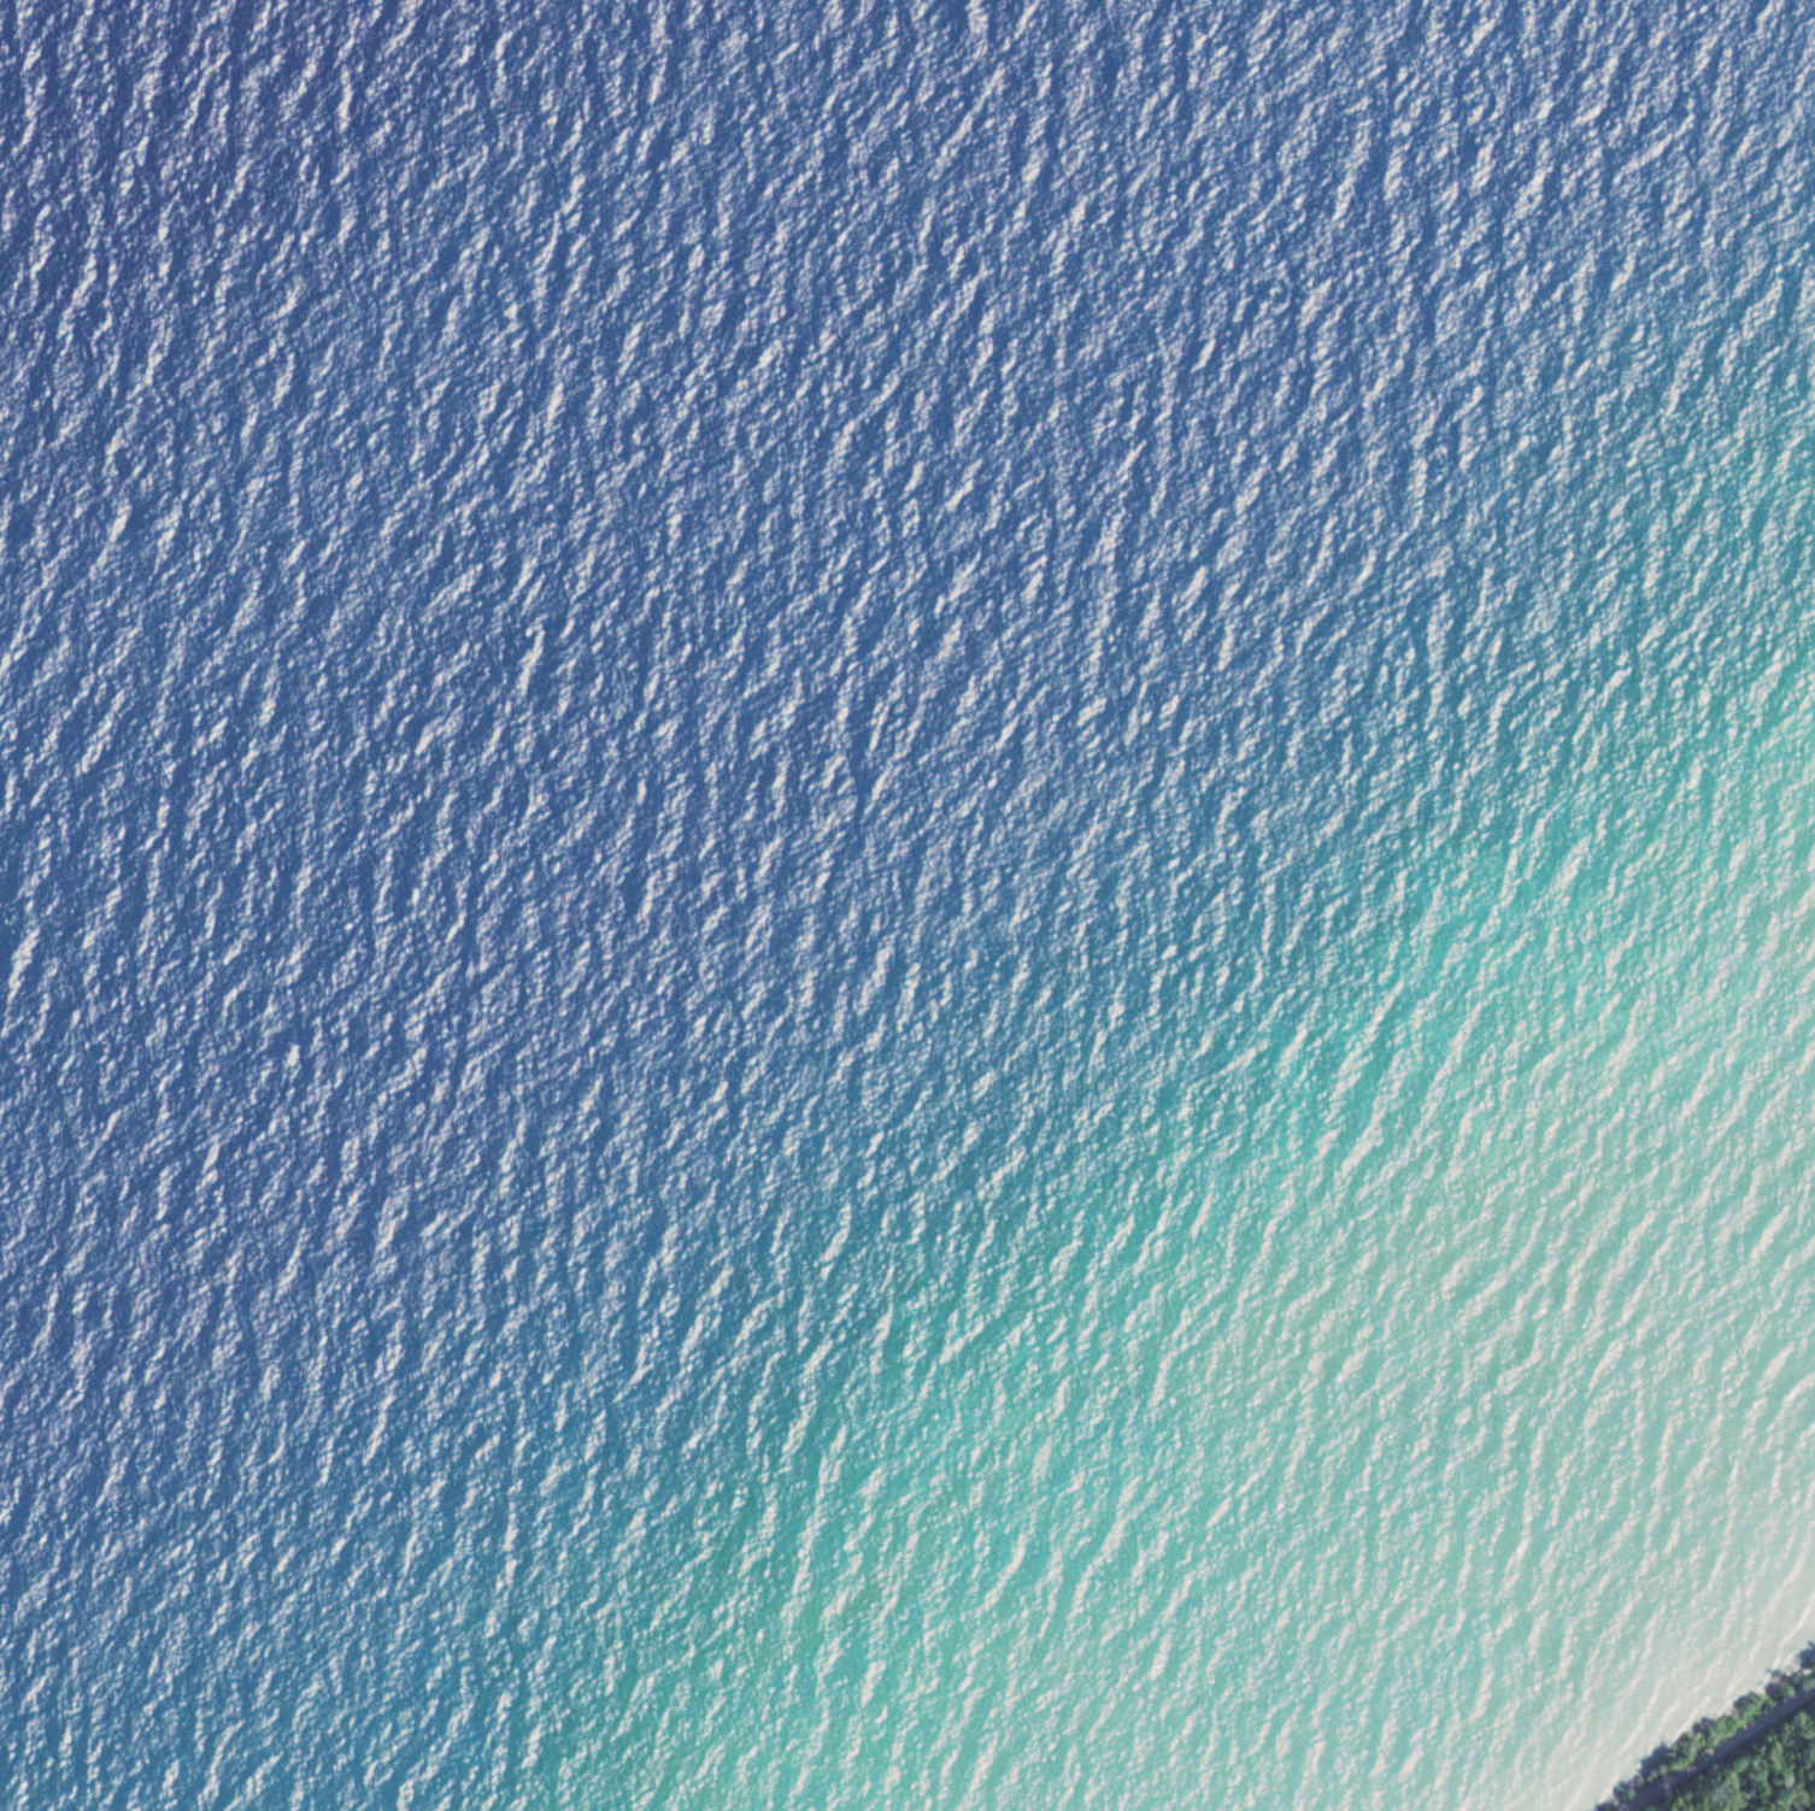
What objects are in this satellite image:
park: (1704, 1657)
road: (1720, 1747)

